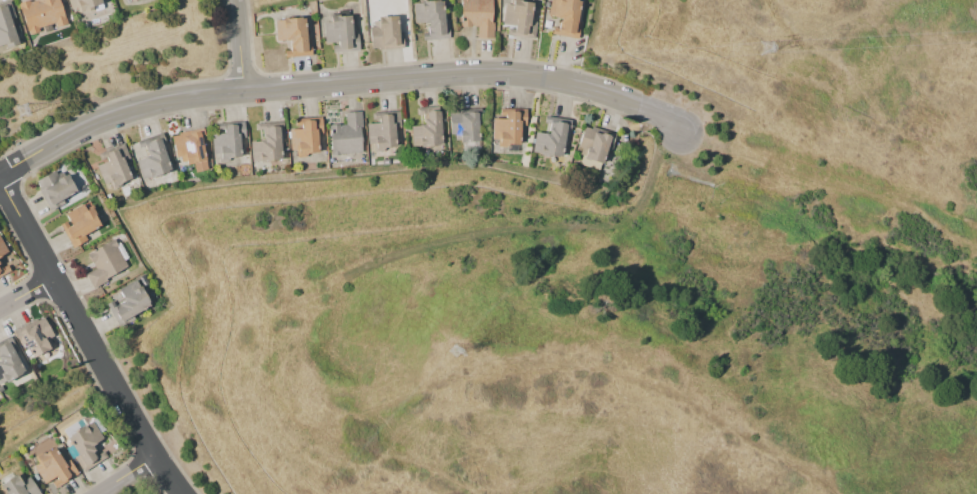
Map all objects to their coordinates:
building: (82, 4)
building: (39, 13)
building: (475, 16)
building: (517, 17)
building: (563, 17)
building: (429, 19)
building: (6, 24)
building: (338, 33)
building: (383, 33)
building: (291, 36)
road: (239, 43)
power tower: (765, 46)
road: (467, 76)
power tower: (20, 109)
road: (132, 111)
building: (463, 124)
building: (425, 127)
building: (507, 127)
building: (344, 134)
building: (304, 136)
building: (226, 140)
building: (266, 142)
building: (593, 143)
building: (189, 147)
building: (113, 165)
road: (16, 169)
road: (0, 178)
road: (831, 184)
building: (53, 188)
building: (78, 224)
building: (2, 249)
building: (103, 262)
building: (1, 269)
road: (23, 288)
building: (35, 336)
road: (82, 340)
power tower: (453, 350)
building: (8, 360)
building: (83, 445)
building: (52, 467)
road: (124, 477)
building: (17, 486)

